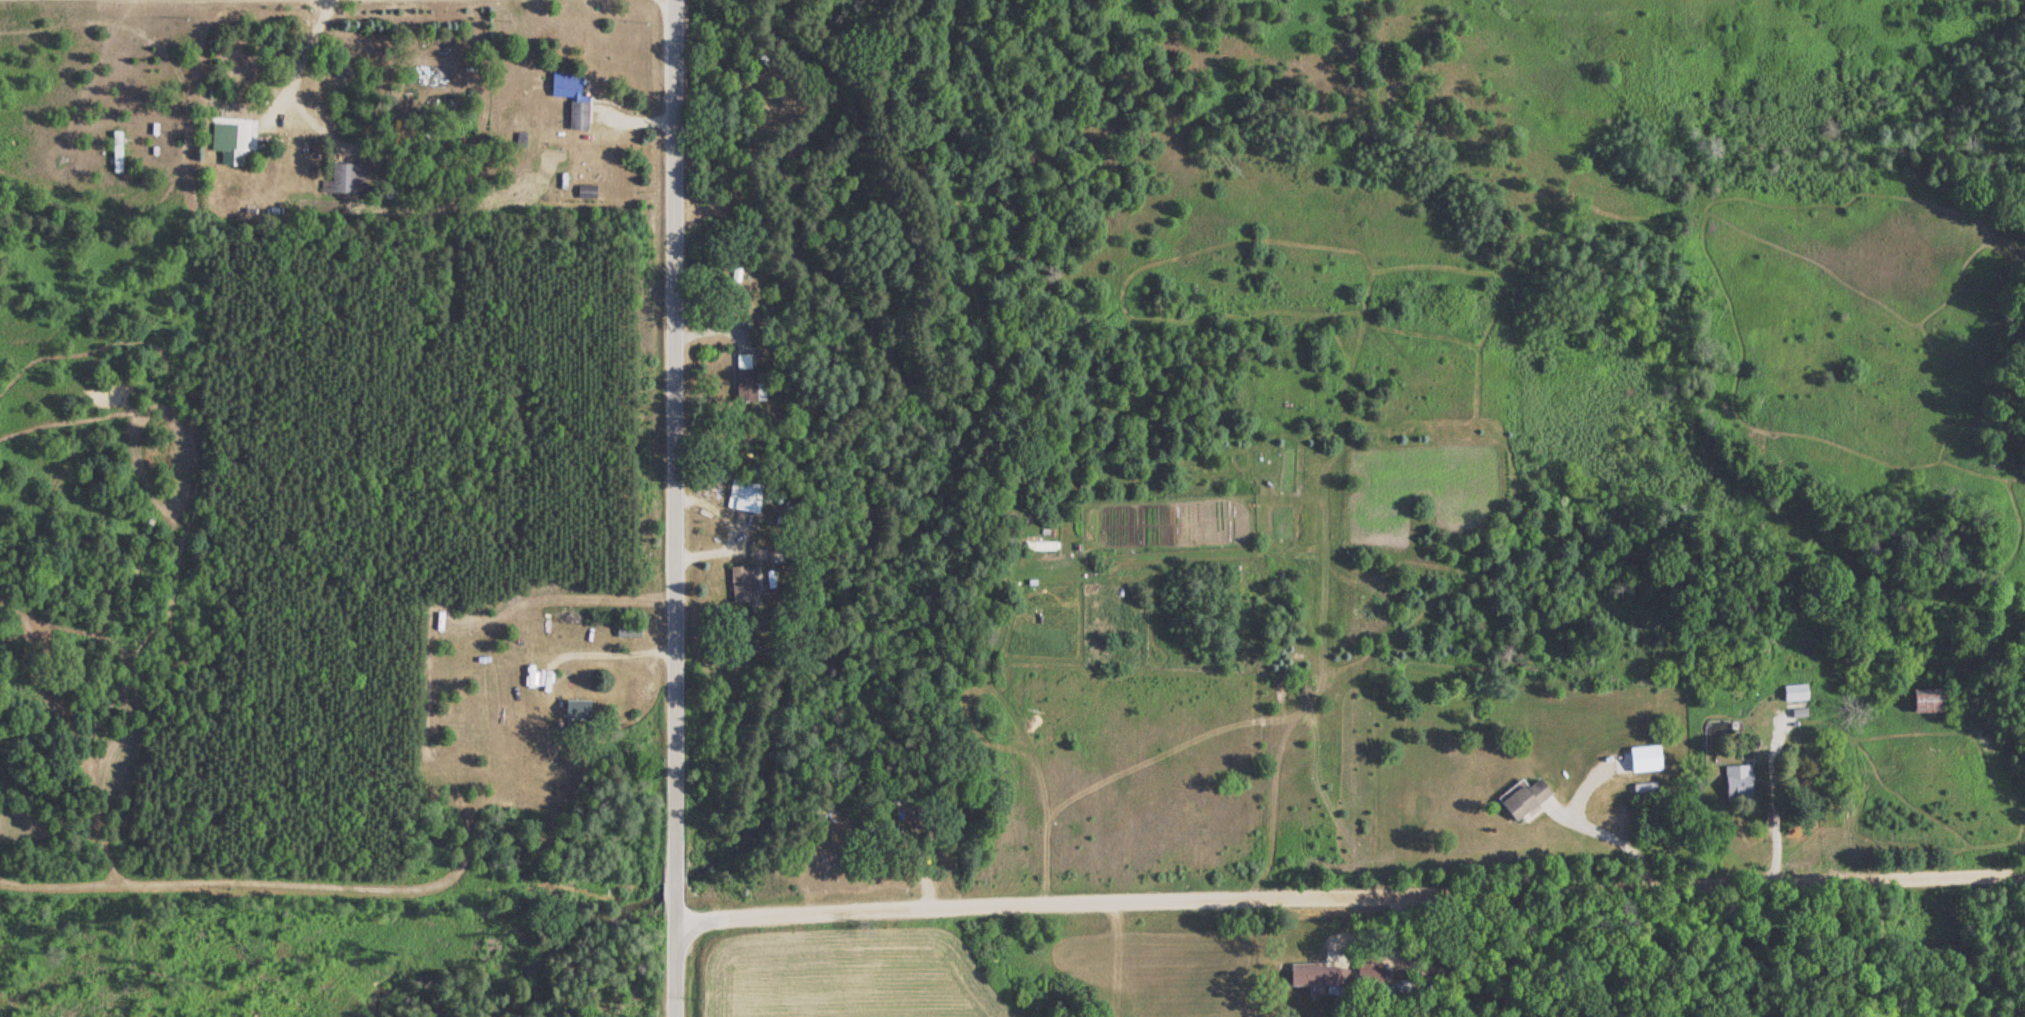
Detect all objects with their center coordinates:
building: (564, 83)
building: (576, 114)
building: (228, 142)
building: (114, 151)
building: (346, 176)
building: (584, 191)
building: (743, 379)
building: (748, 492)
road: (666, 508)
building: (741, 582)
building: (626, 628)
building: (1793, 692)
building: (1926, 700)
building: (575, 709)
building: (1736, 782)
building: (1521, 798)
road: (1342, 864)
road: (1866, 933)
building: (1366, 971)
building: (1315, 975)

